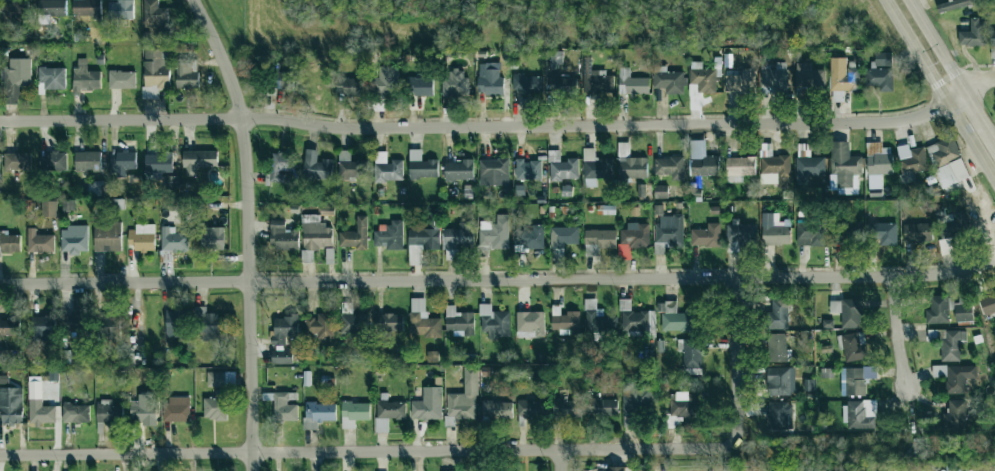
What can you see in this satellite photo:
building: (955, 4)
building: (51, 8)
building: (86, 8)
building: (14, 12)
building: (154, 14)
building: (973, 34)
building: (992, 38)
road: (938, 46)
building: (555, 57)
building: (882, 59)
building: (156, 68)
building: (185, 74)
building: (84, 77)
building: (808, 77)
building: (51, 78)
building: (773, 78)
building: (879, 78)
building: (15, 79)
building: (121, 79)
building: (388, 79)
building: (489, 79)
building: (701, 79)
building: (842, 79)
road: (978, 79)
building: (283, 80)
building: (668, 80)
building: (739, 81)
building: (454, 82)
building: (597, 82)
building: (632, 83)
building: (528, 84)
building: (348, 85)
building: (420, 85)
building: (562, 85)
road: (939, 90)
road: (981, 115)
road: (486, 126)
building: (944, 150)
building: (879, 159)
building: (911, 159)
building: (56, 160)
building: (87, 160)
building: (198, 160)
building: (702, 160)
building: (17, 161)
building: (158, 162)
building: (121, 163)
building: (630, 163)
building: (281, 165)
building: (421, 165)
building: (845, 165)
building: (317, 166)
building: (350, 166)
building: (808, 166)
building: (562, 167)
building: (595, 167)
building: (670, 167)
building: (387, 168)
building: (739, 168)
building: (527, 169)
building: (458, 170)
building: (775, 170)
building: (493, 172)
building: (951, 172)
building: (171, 181)
building: (467, 191)
building: (661, 191)
building: (68, 204)
building: (49, 208)
building: (952, 225)
road: (248, 230)
building: (774, 231)
building: (668, 232)
building: (917, 232)
building: (316, 233)
building: (846, 233)
building: (882, 233)
building: (355, 234)
building: (426, 234)
building: (740, 234)
building: (809, 234)
building: (389, 235)
building: (493, 235)
building: (282, 236)
building: (563, 236)
building: (706, 236)
building: (107, 237)
building: (141, 237)
building: (212, 238)
building: (530, 238)
building: (633, 238)
building: (74, 239)
building: (173, 239)
building: (457, 240)
building: (40, 241)
building: (599, 241)
building: (9, 242)
road: (498, 278)
building: (988, 302)
building: (939, 309)
building: (848, 311)
building: (963, 312)
building: (778, 315)
building: (675, 317)
building: (598, 318)
building: (351, 320)
building: (423, 320)
building: (636, 320)
building: (75, 321)
building: (459, 321)
building: (494, 321)
building: (388, 322)
building: (529, 324)
building: (43, 325)
building: (177, 325)
building: (10, 326)
building: (208, 326)
building: (321, 326)
building: (111, 327)
building: (284, 328)
road: (900, 333)
building: (952, 344)
building: (853, 346)
building: (776, 347)
building: (692, 353)
building: (5, 355)
road: (737, 358)
building: (994, 363)
building: (954, 376)
building: (220, 378)
building: (4, 379)
building: (855, 380)
building: (780, 381)
building: (464, 397)
building: (636, 398)
building: (428, 404)
building: (682, 404)
building: (11, 405)
building: (39, 405)
building: (216, 406)
building: (602, 407)
building: (283, 408)
building: (567, 408)
building: (496, 409)
building: (531, 409)
building: (176, 410)
building: (108, 411)
building: (141, 411)
building: (389, 411)
building: (75, 413)
building: (354, 413)
building: (318, 414)
building: (955, 414)
building: (778, 415)
building: (859, 415)
road: (369, 452)
road: (560, 461)
building: (616, 468)
building: (638, 469)
road: (660, 469)

